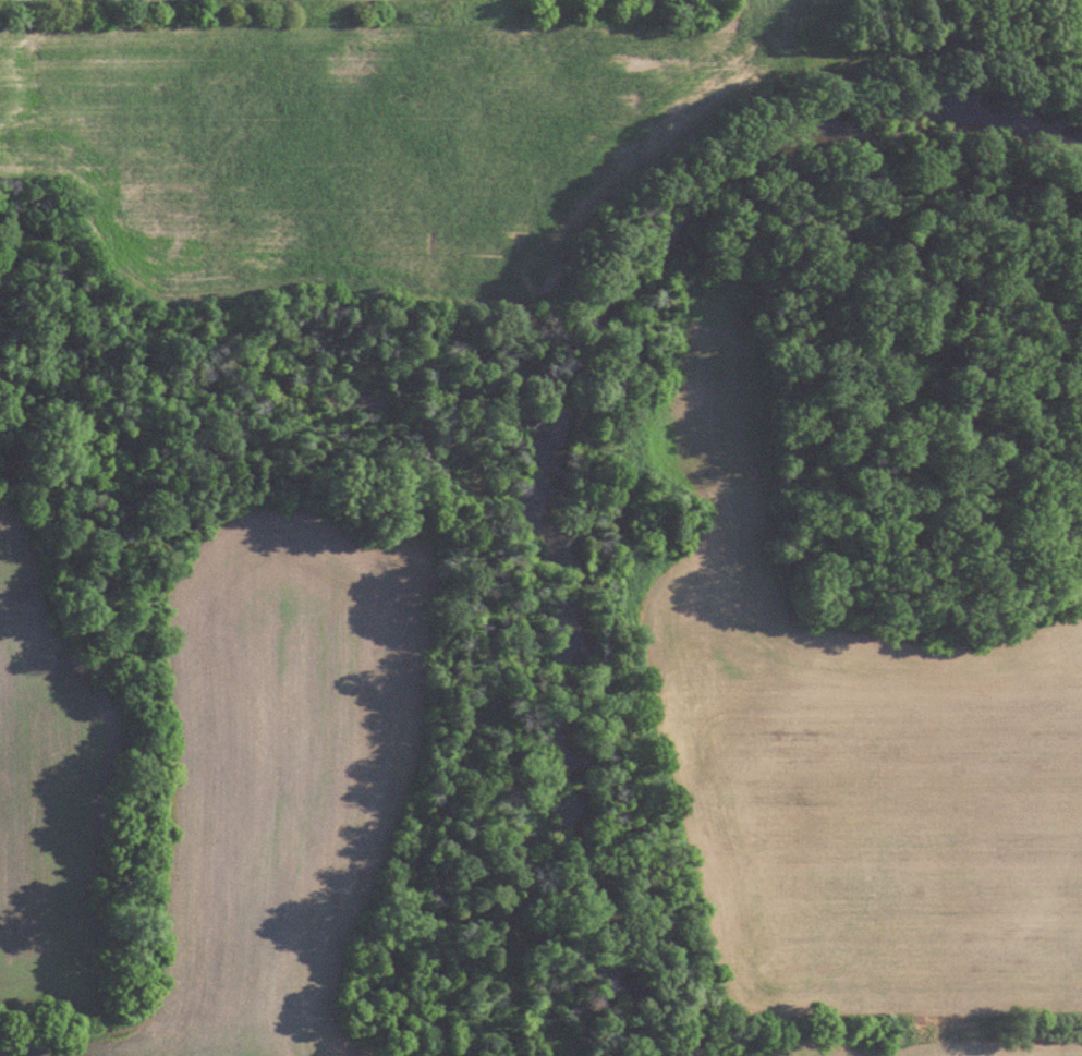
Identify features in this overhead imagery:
river: (578, 409)

